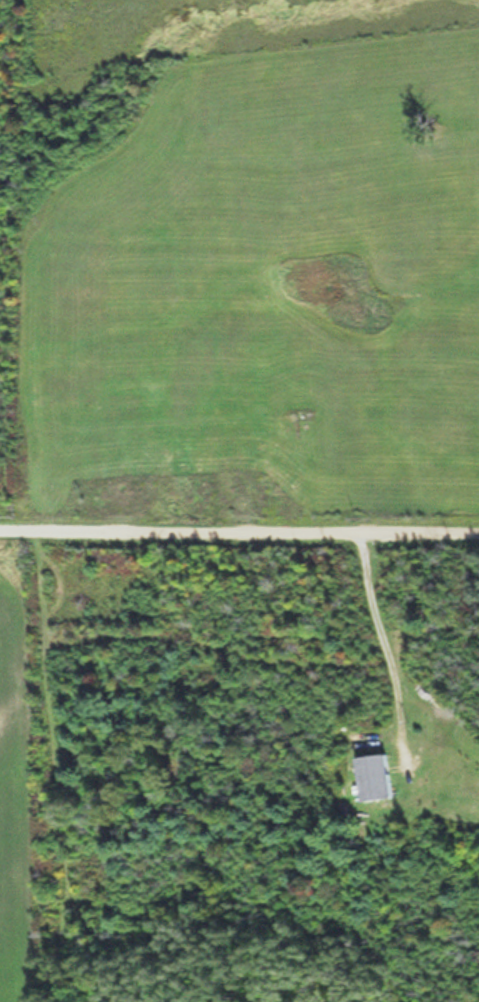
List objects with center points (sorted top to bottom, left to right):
road: (239, 522)
building: (375, 779)

